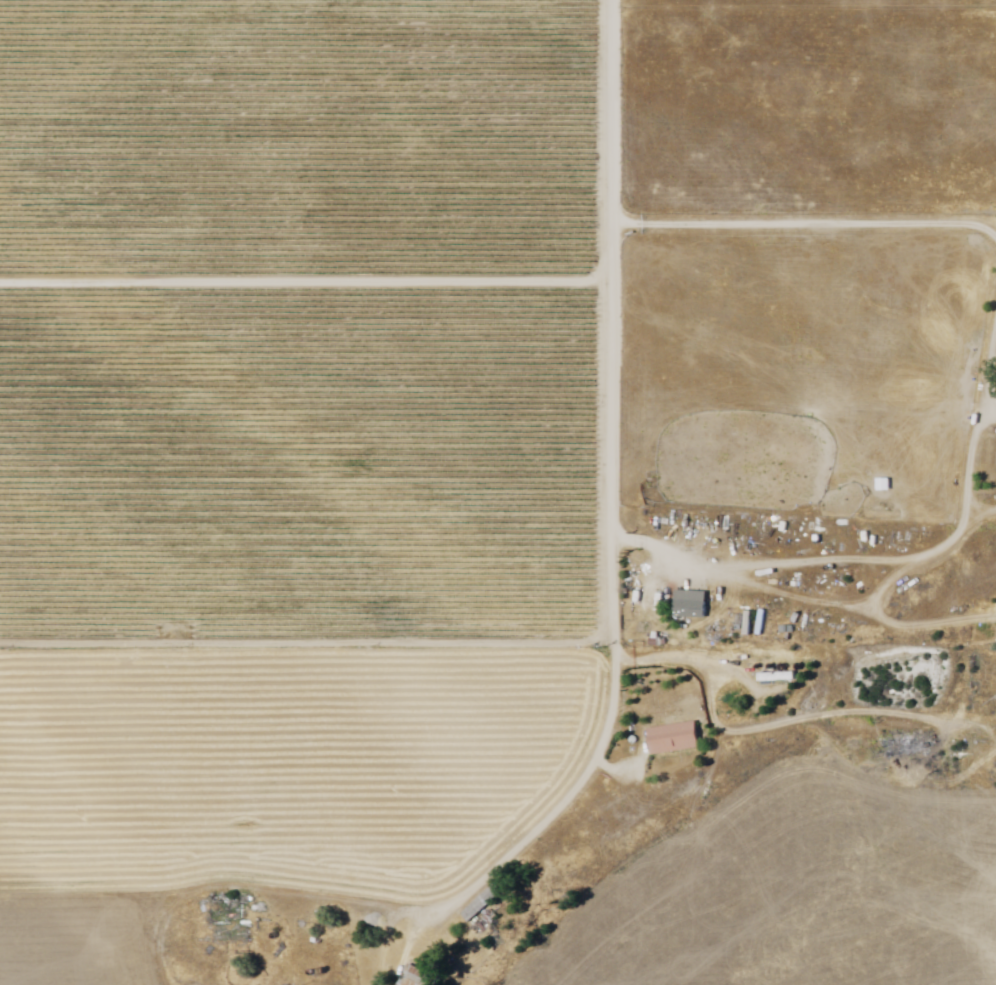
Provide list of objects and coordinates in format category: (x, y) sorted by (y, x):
road: (609, 110)
crop: (146, 128)
road: (803, 223)
crop: (305, 469)
building: (693, 605)
road: (612, 625)
building: (676, 739)
building: (484, 903)
building: (420, 977)

